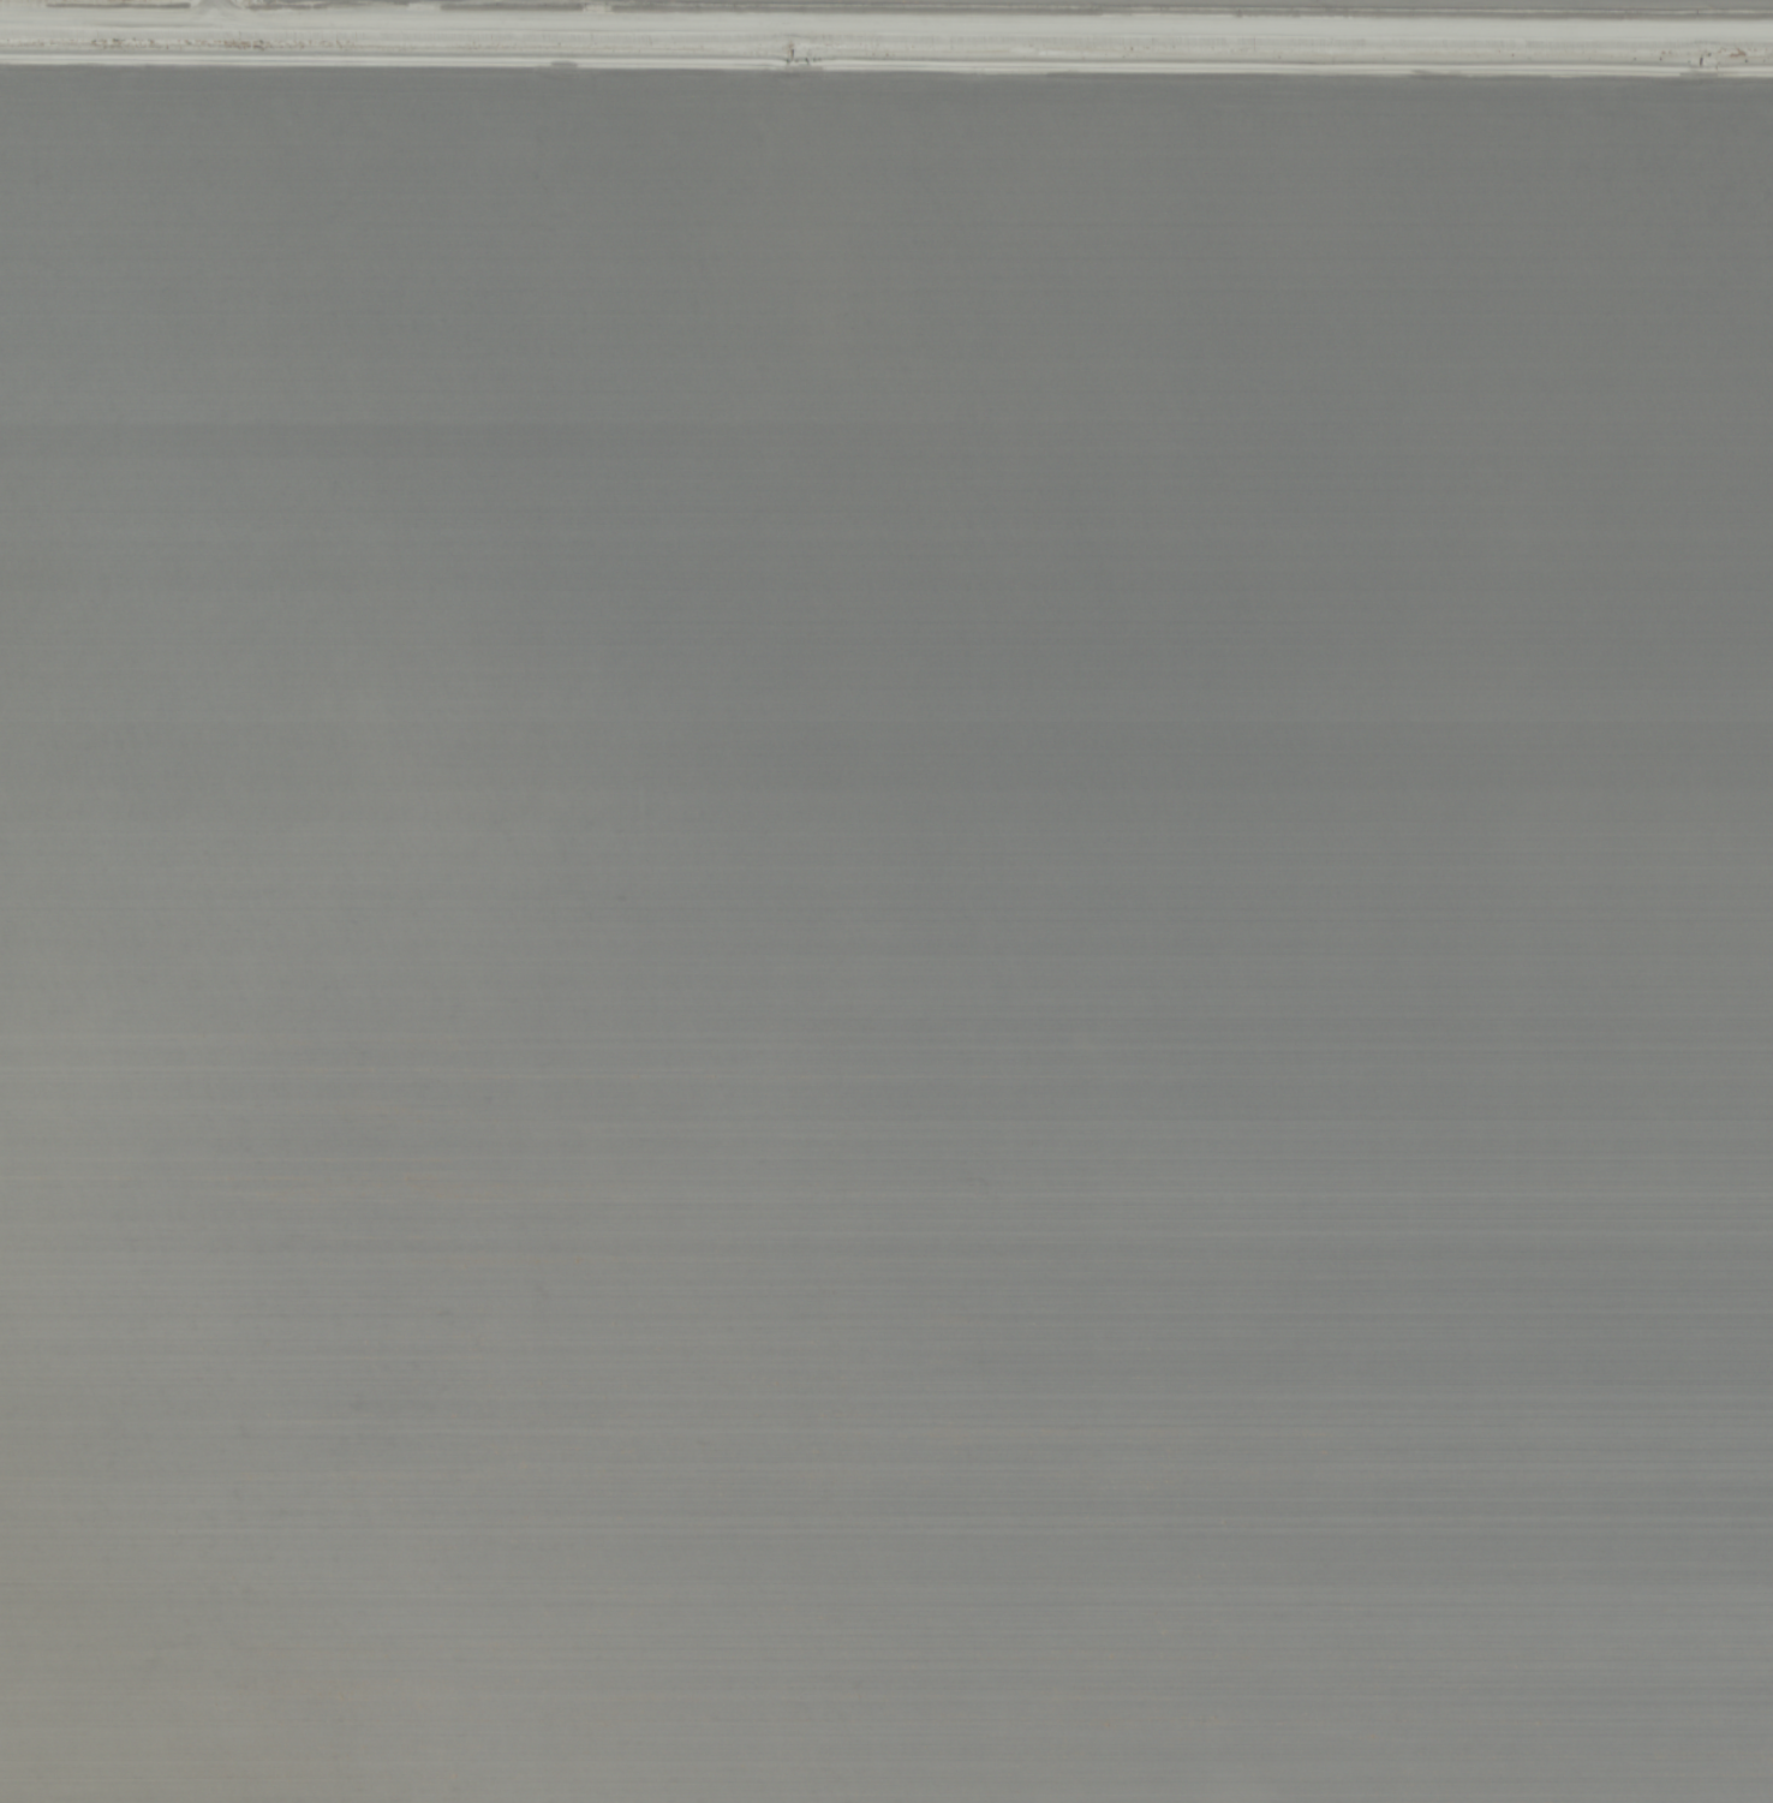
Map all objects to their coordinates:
crop: (886, 901)

